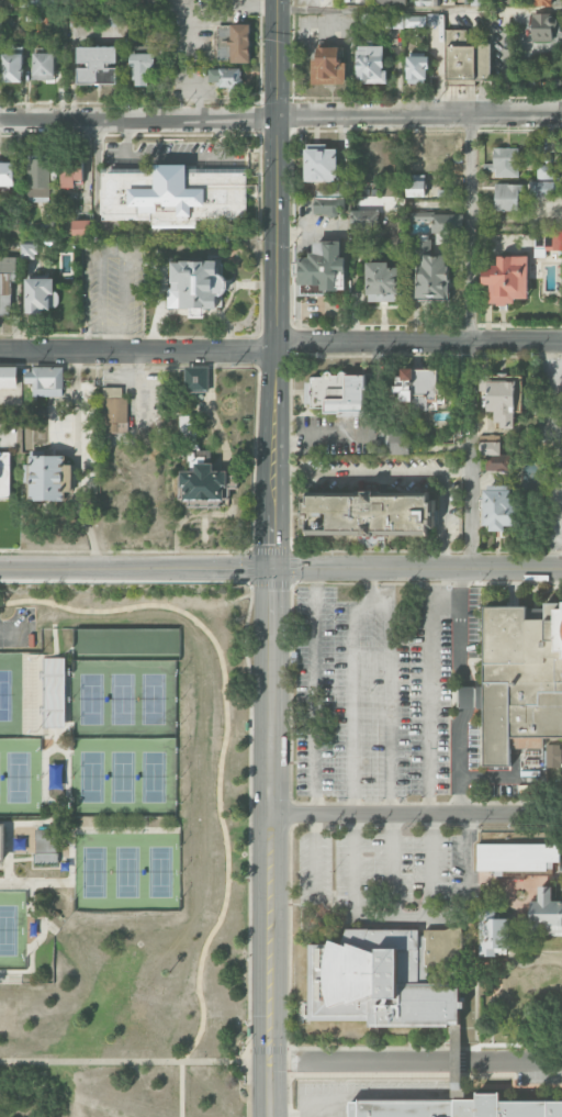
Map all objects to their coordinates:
building: (390, 2)
building: (427, 2)
building: (542, 2)
road: (138, 9)
road: (419, 9)
building: (394, 21)
building: (542, 26)
building: (240, 43)
building: (224, 46)
building: (467, 57)
building: (12, 64)
building: (97, 65)
building: (370, 65)
building: (329, 66)
building: (44, 67)
building: (416, 68)
building: (143, 69)
building: (225, 77)
road: (281, 115)
road: (124, 142)
road: (199, 160)
building: (505, 161)
building: (321, 165)
building: (548, 171)
building: (7, 174)
building: (72, 176)
building: (38, 178)
building: (415, 186)
building: (544, 189)
building: (173, 196)
building: (506, 197)
building: (328, 206)
building: (424, 215)
building: (364, 219)
building: (447, 223)
building: (81, 227)
building: (553, 239)
building: (324, 267)
building: (430, 273)
building: (507, 280)
building: (382, 282)
building: (5, 286)
building: (195, 287)
building: (41, 294)
road: (474, 340)
road: (280, 345)
road: (76, 370)
building: (8, 378)
building: (196, 378)
building: (45, 381)
building: (417, 387)
building: (337, 393)
building: (503, 396)
building: (115, 410)
building: (187, 429)
building: (398, 443)
building: (488, 448)
parking lot: (551, 454)
road: (553, 454)
building: (497, 462)
building: (4, 476)
building: (47, 478)
building: (203, 479)
road: (76, 480)
building: (498, 506)
building: (367, 514)
road: (249, 550)
road: (270, 558)
road: (135, 567)
traffic signals: (270, 568)
road: (416, 568)
road: (310, 581)
road: (560, 582)
road: (352, 623)
parking lot: (16, 632)
building: (520, 679)
road: (467, 690)
stadium: (31, 694)
park: (10, 696)
road: (429, 697)
building: (472, 697)
road: (314, 700)
road: (387, 700)
road: (249, 724)
road: (353, 733)
road: (224, 741)
building: (553, 757)
park: (125, 769)
park: (19, 777)
road: (68, 779)
road: (313, 803)
road: (333, 803)
road: (396, 803)
road: (461, 804)
road: (514, 804)
road: (291, 813)
road: (415, 813)
road: (58, 819)
road: (68, 833)
building: (1, 842)
building: (45, 845)
park: (122, 849)
building: (515, 857)
road: (355, 864)
road: (391, 865)
road: (430, 865)
road: (8, 878)
road: (57, 882)
road: (518, 903)
building: (544, 913)
road: (390, 917)
park: (13, 929)
building: (497, 929)
road: (289, 969)
road: (510, 972)
building: (389, 978)
road: (425, 1047)
road: (268, 1049)
road: (429, 1060)
road: (124, 1061)
road: (457, 1062)
road: (431, 1074)
road: (181, 1090)
parking lot: (412, 1091)
road: (45, 1092)
road: (348, 1095)
building: (457, 1107)

